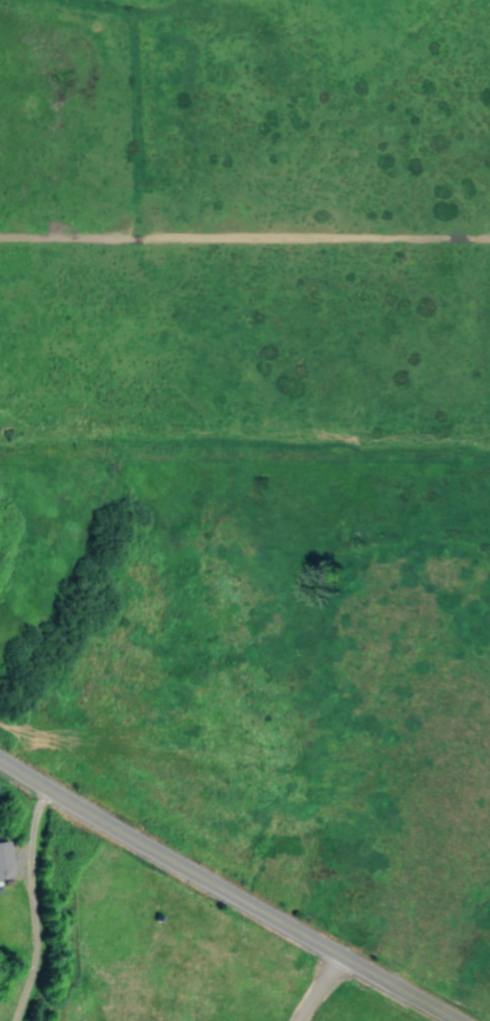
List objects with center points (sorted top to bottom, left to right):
crop: (261, 394)
building: (4, 859)
road: (226, 890)
road: (320, 988)

